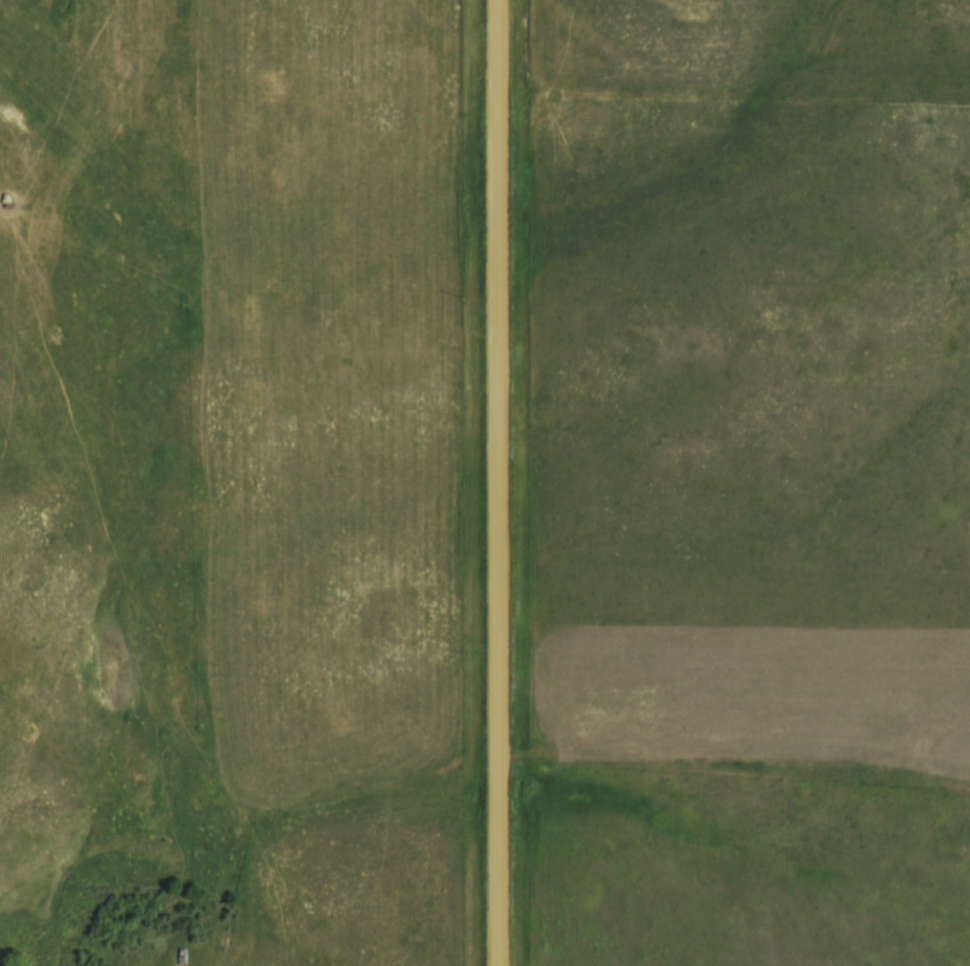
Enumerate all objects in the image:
road: (498, 483)

